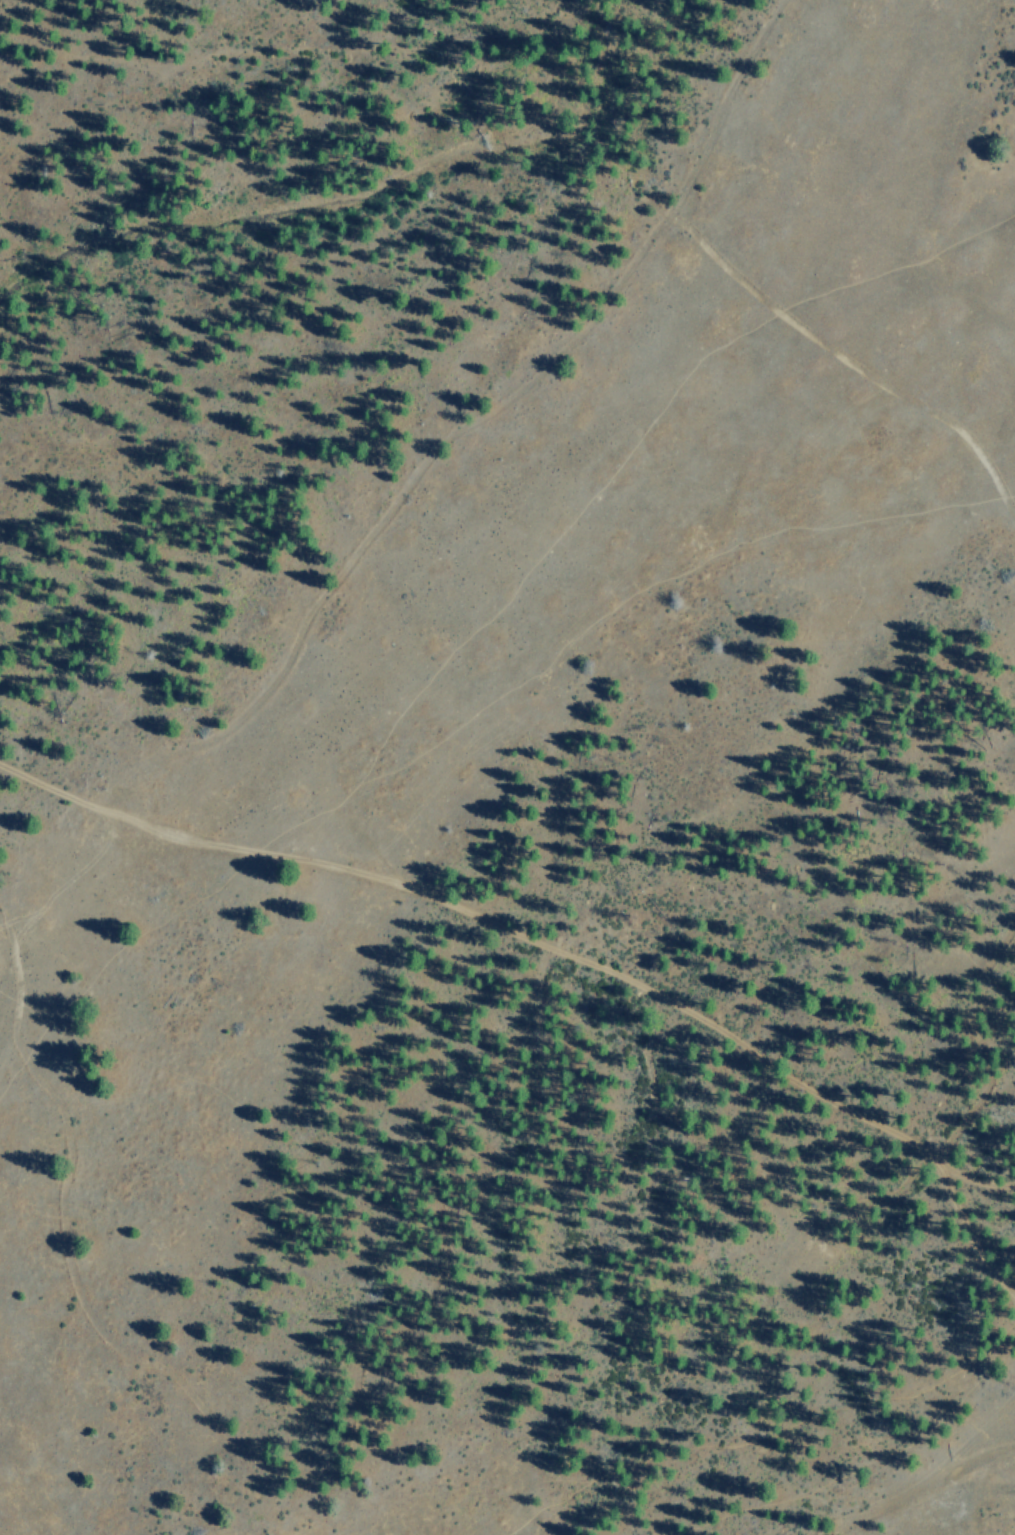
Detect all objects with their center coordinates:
road: (509, 928)

